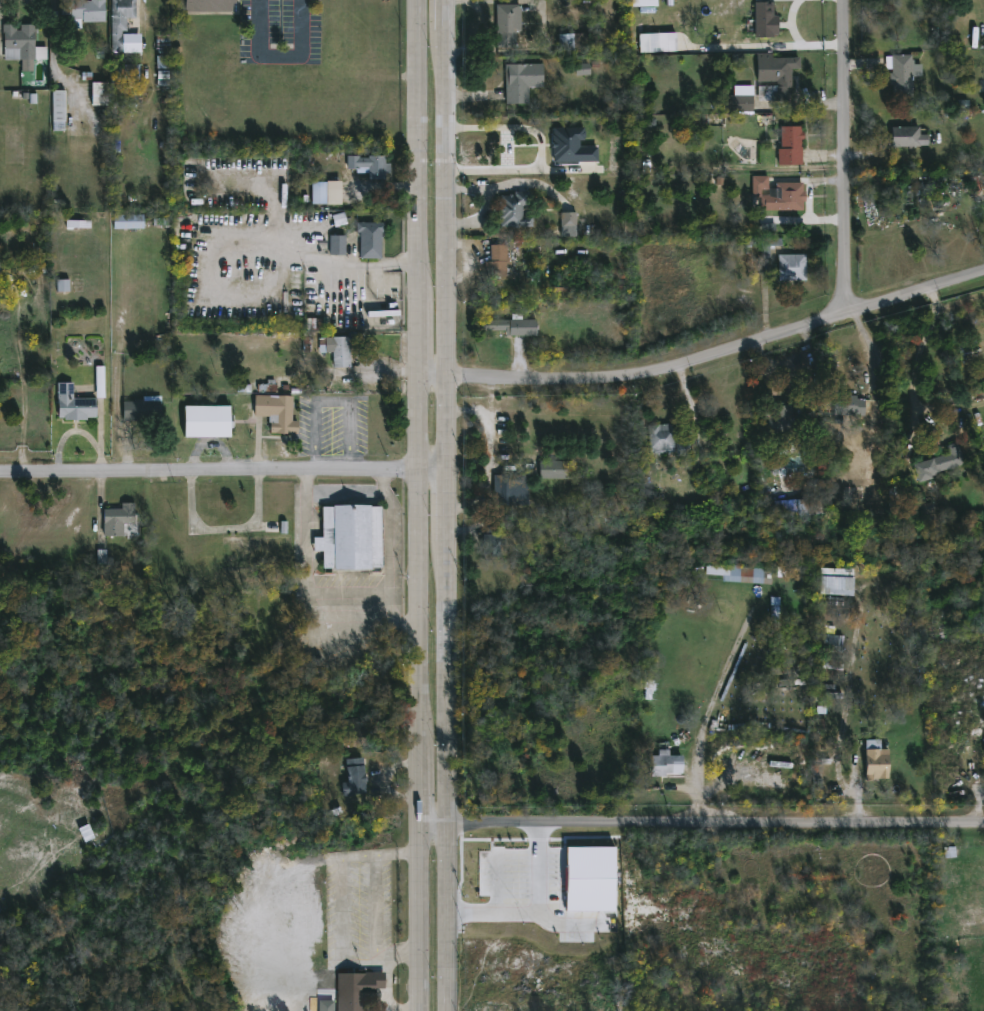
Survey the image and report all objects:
building: (644, 3)
building: (208, 5)
building: (81, 11)
road: (449, 15)
building: (763, 19)
road: (792, 22)
building: (506, 23)
building: (121, 25)
building: (651, 42)
building: (574, 43)
building: (20, 46)
road: (772, 47)
road: (280, 59)
building: (163, 62)
building: (582, 70)
building: (905, 72)
building: (163, 75)
building: (774, 76)
building: (520, 81)
building: (117, 85)
building: (96, 94)
building: (738, 101)
building: (56, 106)
building: (906, 137)
building: (792, 146)
building: (572, 147)
road: (505, 151)
road: (543, 152)
road: (844, 157)
building: (368, 166)
building: (317, 193)
building: (777, 194)
building: (515, 210)
building: (568, 220)
building: (126, 222)
building: (78, 224)
building: (768, 228)
building: (368, 239)
building: (337, 245)
building: (769, 246)
road: (444, 251)
road: (303, 258)
building: (498, 261)
building: (791, 268)
building: (63, 286)
building: (509, 326)
building: (335, 350)
road: (707, 358)
road: (917, 363)
road: (790, 366)
road: (421, 368)
building: (99, 389)
road: (331, 401)
building: (72, 405)
building: (851, 406)
building: (140, 408)
building: (275, 412)
road: (467, 414)
building: (203, 419)
building: (788, 421)
building: (666, 441)
road: (491, 461)
building: (941, 462)
building: (551, 469)
road: (221, 472)
road: (382, 483)
building: (508, 489)
road: (346, 494)
building: (809, 505)
road: (444, 507)
building: (116, 518)
road: (226, 531)
building: (347, 535)
building: (491, 541)
road: (389, 543)
building: (227, 570)
building: (781, 571)
road: (307, 572)
building: (741, 574)
building: (835, 584)
building: (775, 616)
road: (396, 619)
building: (833, 641)
road: (446, 683)
road: (710, 707)
road: (844, 712)
building: (821, 726)
building: (351, 738)
building: (983, 739)
building: (666, 762)
building: (875, 764)
building: (355, 778)
road: (420, 781)
park: (172, 784)
road: (434, 825)
road: (715, 827)
building: (949, 852)
building: (590, 879)
road: (528, 903)
road: (446, 917)
road: (419, 918)
building: (355, 989)

